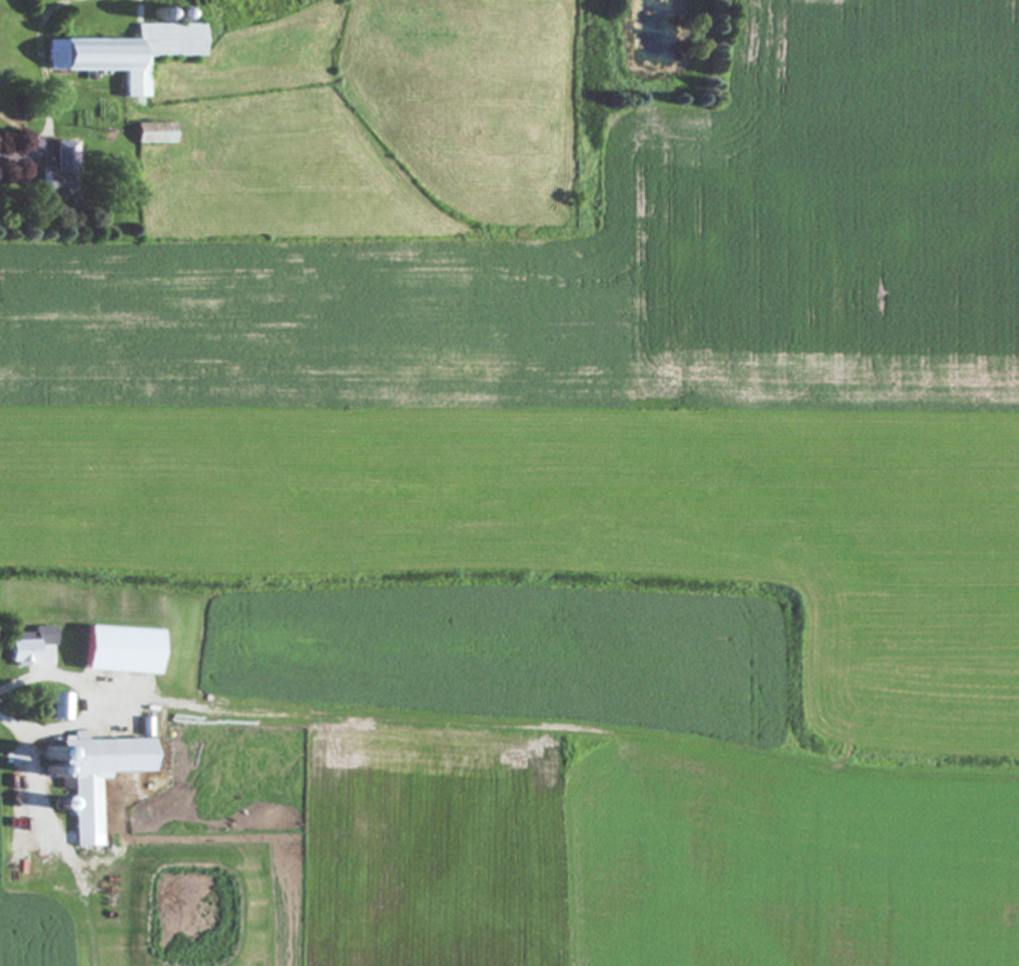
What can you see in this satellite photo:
building: (127, 54)
building: (155, 134)
road: (20, 155)
building: (60, 172)
building: (28, 645)
building: (119, 651)
road: (85, 704)
building: (58, 708)
building: (144, 728)
building: (94, 777)

